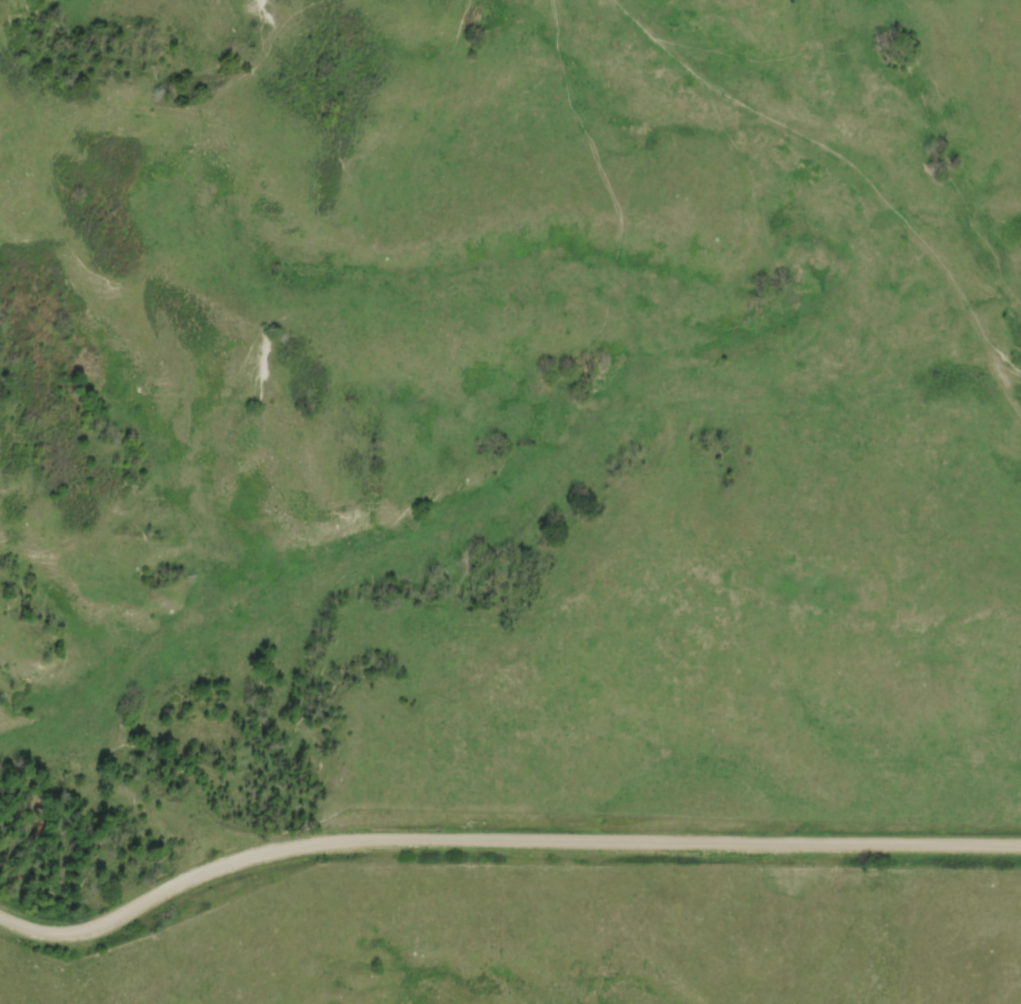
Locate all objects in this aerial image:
road: (498, 841)

